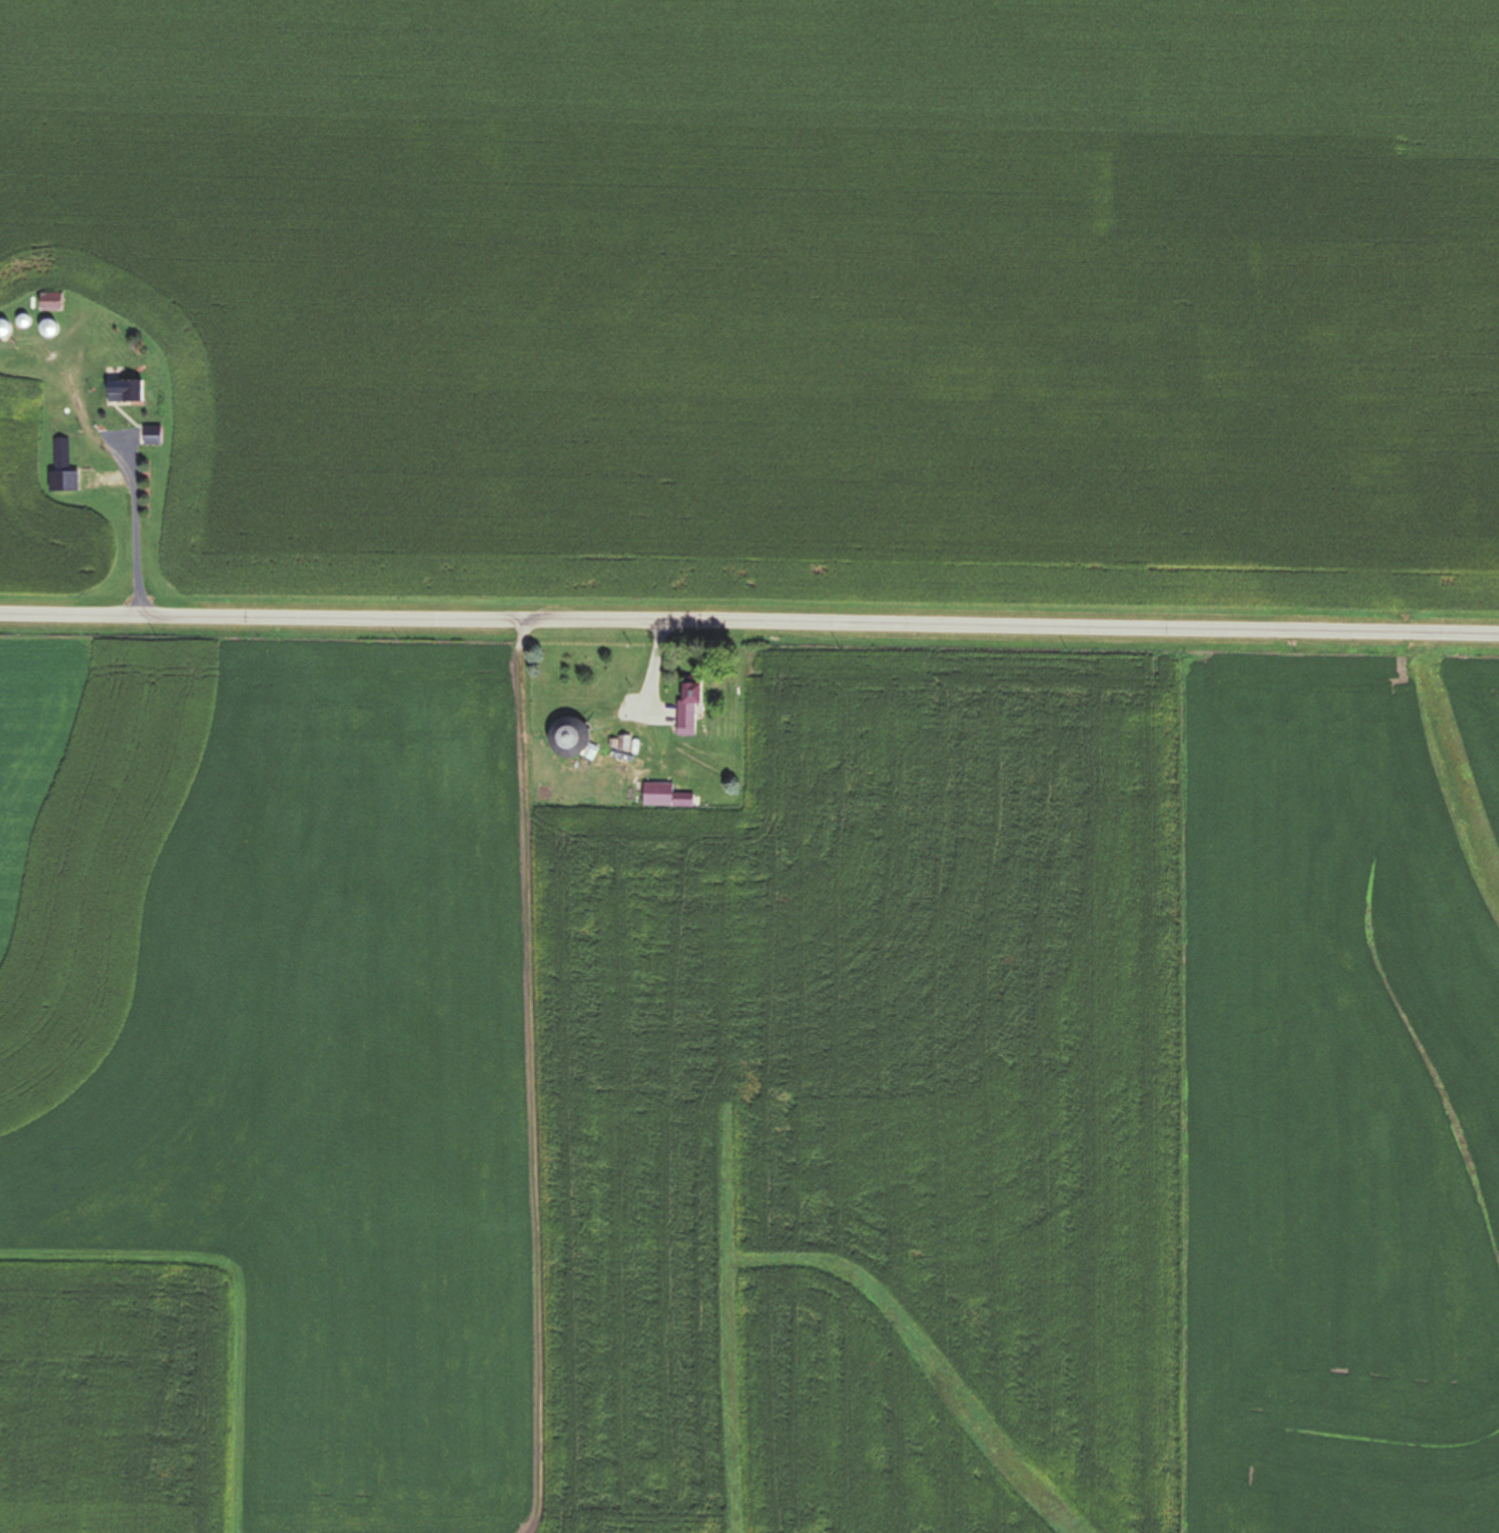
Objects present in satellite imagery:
building: (2, 328)
building: (45, 329)
building: (123, 392)
building: (62, 470)
road: (749, 624)
building: (684, 720)
building: (662, 796)

